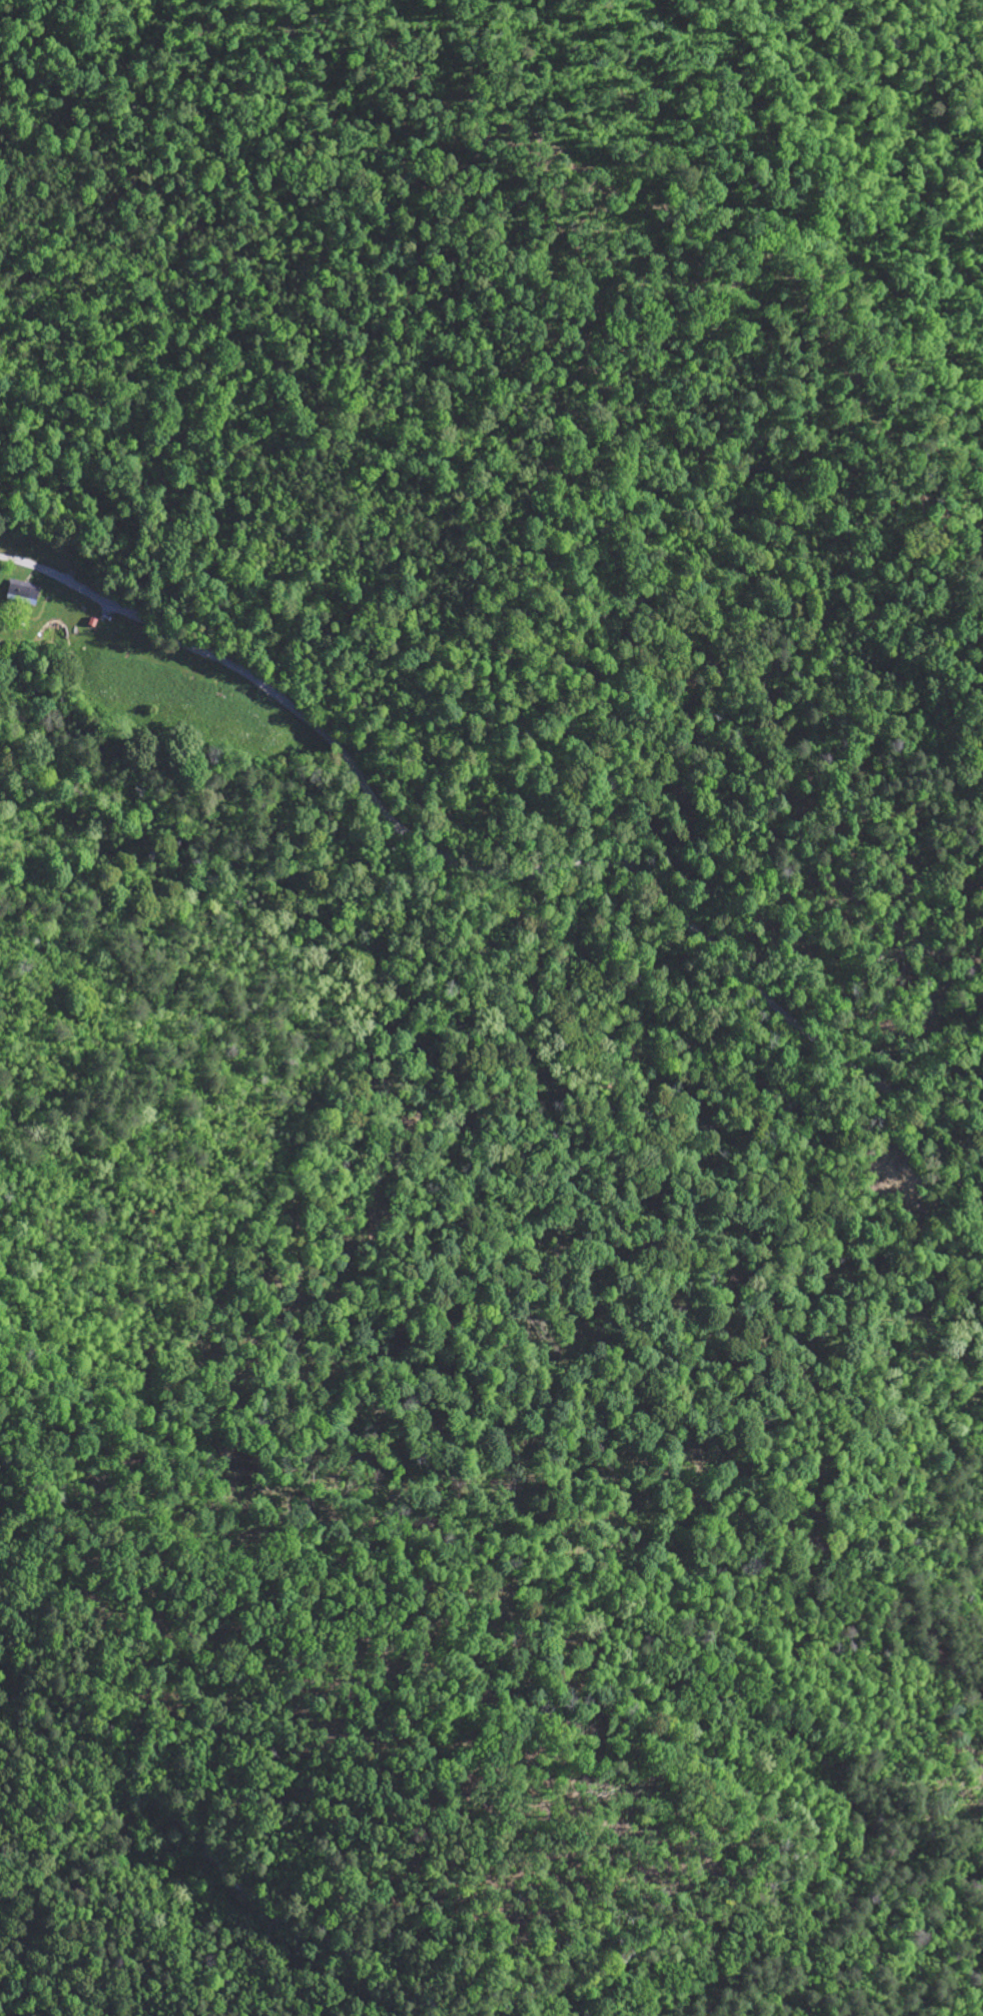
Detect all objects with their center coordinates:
road: (566, 866)

